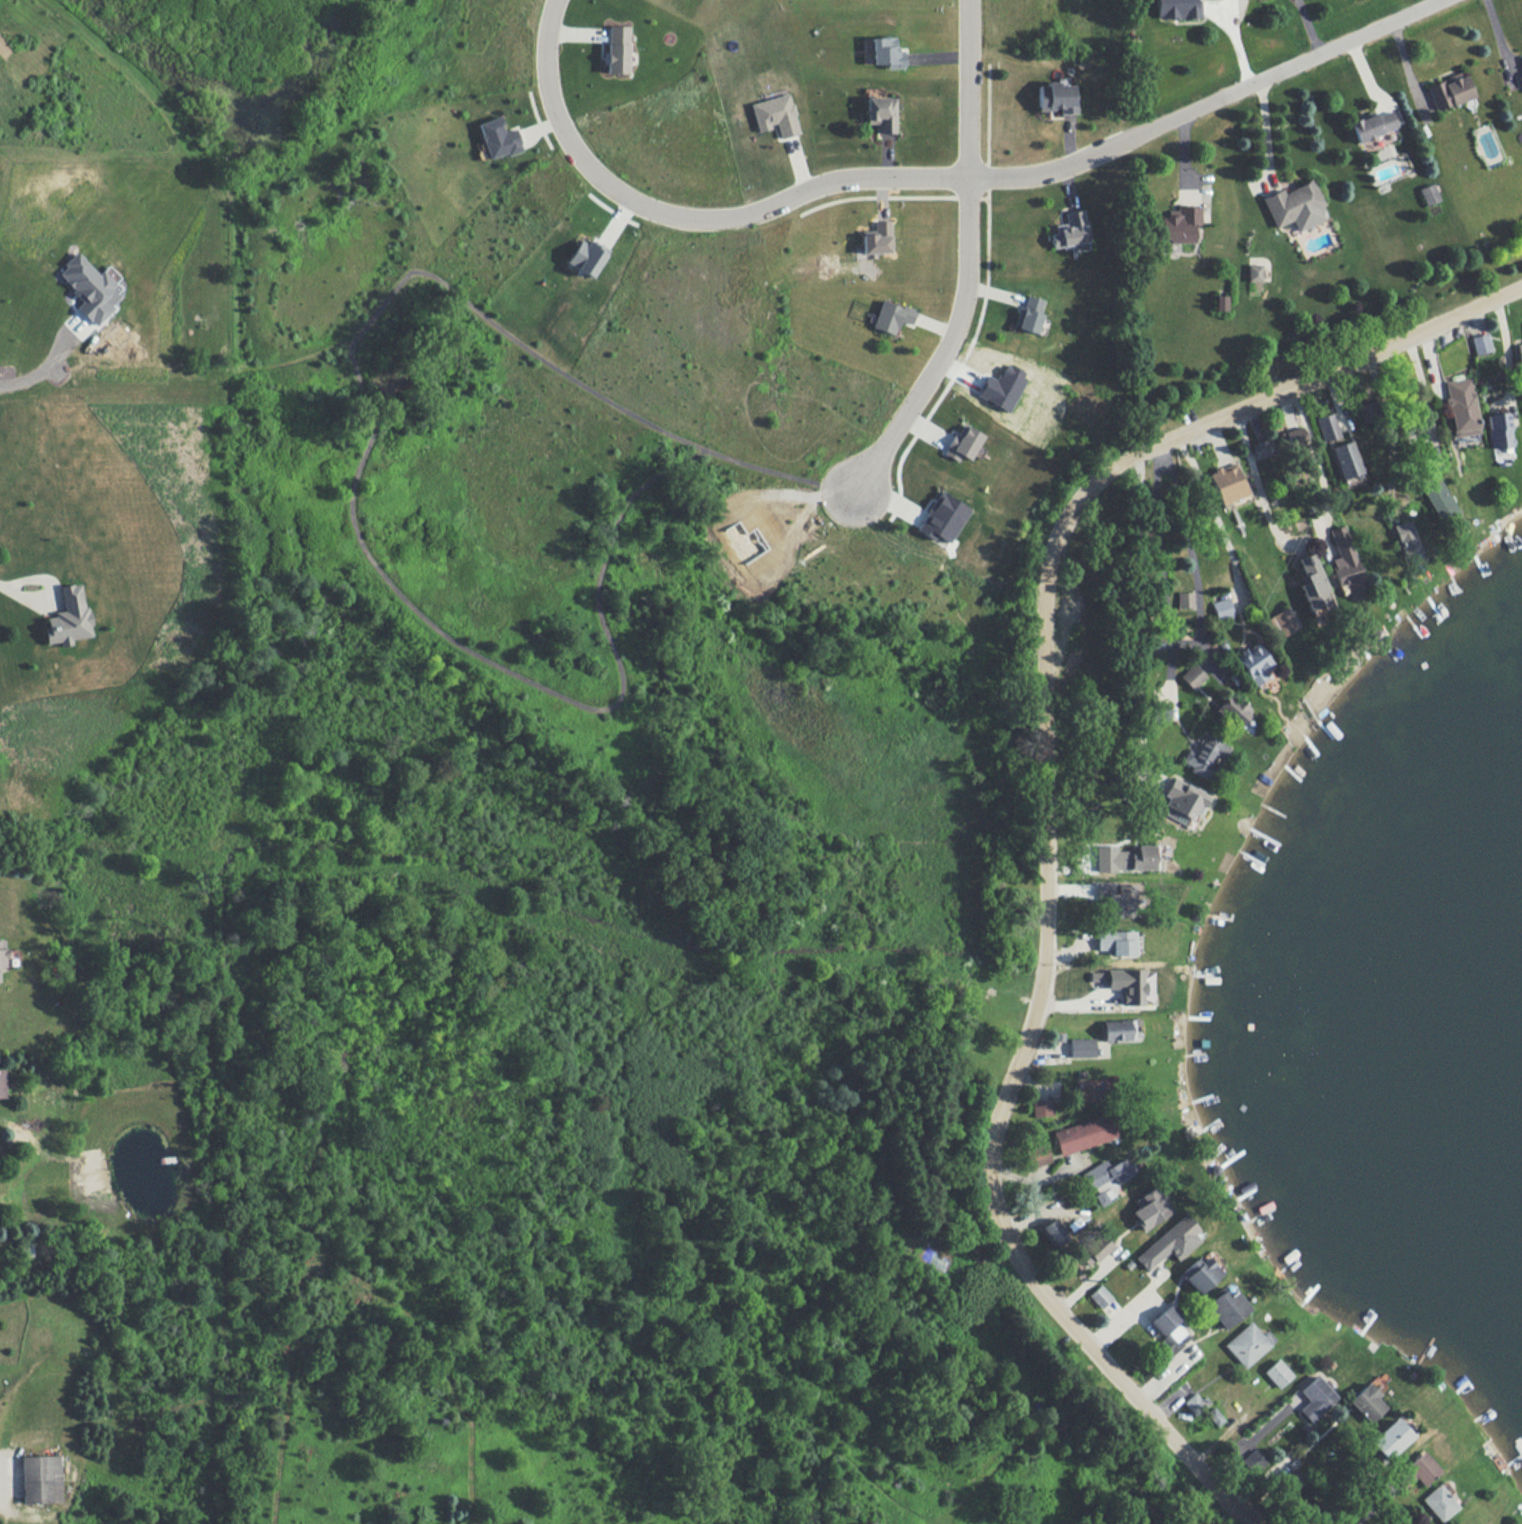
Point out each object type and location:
building: (1177, 9)
road: (1500, 42)
building: (617, 49)
building: (885, 52)
building: (1448, 91)
building: (1056, 97)
road: (1210, 105)
building: (879, 113)
building: (775, 115)
building: (1372, 125)
road: (1266, 134)
building: (498, 138)
building: (1428, 194)
building: (1294, 206)
road: (769, 208)
building: (1179, 224)
building: (876, 238)
building: (586, 256)
building: (1254, 272)
building: (88, 288)
building: (1220, 302)
building: (1030, 313)
building: (891, 316)
building: (1479, 343)
road: (1504, 348)
road: (948, 349)
building: (1518, 352)
road: (45, 380)
building: (1002, 387)
building: (1460, 406)
building: (1326, 427)
building: (1498, 432)
building: (1294, 435)
building: (962, 443)
building: (1261, 448)
road: (1312, 448)
building: (1345, 459)
road: (1255, 480)
building: (1226, 483)
building: (1438, 501)
road: (1213, 516)
building: (942, 518)
building: (1406, 539)
road: (1190, 555)
building: (1345, 562)
road: (1160, 567)
building: (1312, 586)
road: (21, 591)
building: (1184, 599)
building: (1221, 608)
road: (1138, 611)
building: (68, 617)
building: (1254, 663)
building: (1192, 676)
building: (1234, 710)
building: (1160, 713)
building: (1204, 754)
building: (1184, 798)
road: (1044, 807)
building: (1125, 858)
building: (1119, 899)
building: (1116, 942)
building: (2, 953)
building: (1096, 976)
building: (1131, 985)
building: (1117, 1030)
building: (1081, 1047)
building: (2, 1083)
building: (1088, 1091)
building: (1041, 1108)
building: (1083, 1134)
building: (1037, 1156)
building: (1107, 1178)
building: (1149, 1208)
building: (1054, 1233)
building: (1170, 1243)
building: (1095, 1251)
building: (1200, 1273)
building: (1100, 1296)
building: (1225, 1307)
road: (1113, 1319)
building: (1165, 1320)
building: (1172, 1341)
building: (1247, 1344)
building: (1277, 1373)
building: (1315, 1398)
building: (1367, 1402)
building: (1196, 1403)
building: (1214, 1416)
building: (1390, 1439)
road: (1247, 1440)
building: (1252, 1460)
building: (1417, 1470)
building: (41, 1479)
road: (1347, 1498)
building: (1439, 1503)
road: (1370, 1508)

